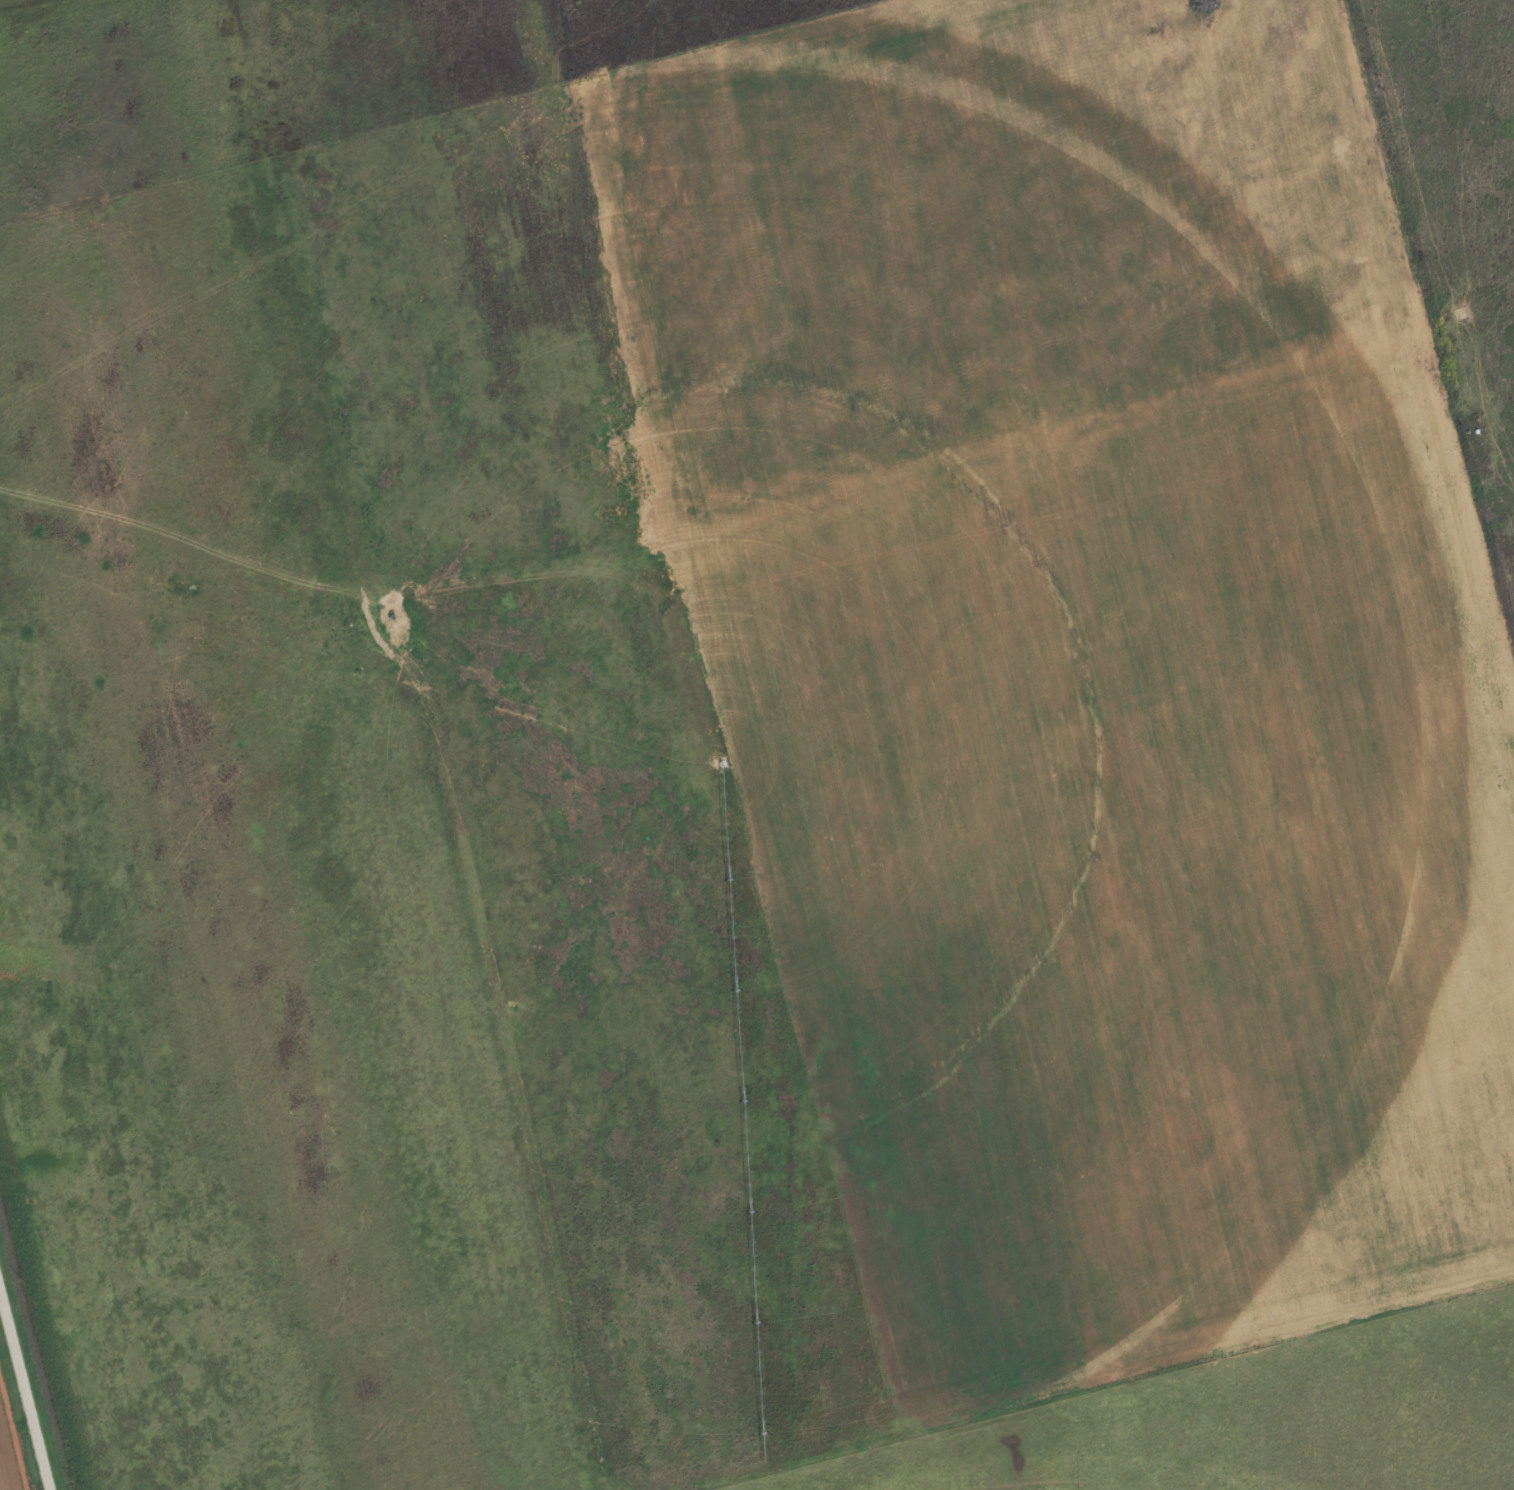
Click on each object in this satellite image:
road: (22, 1400)

